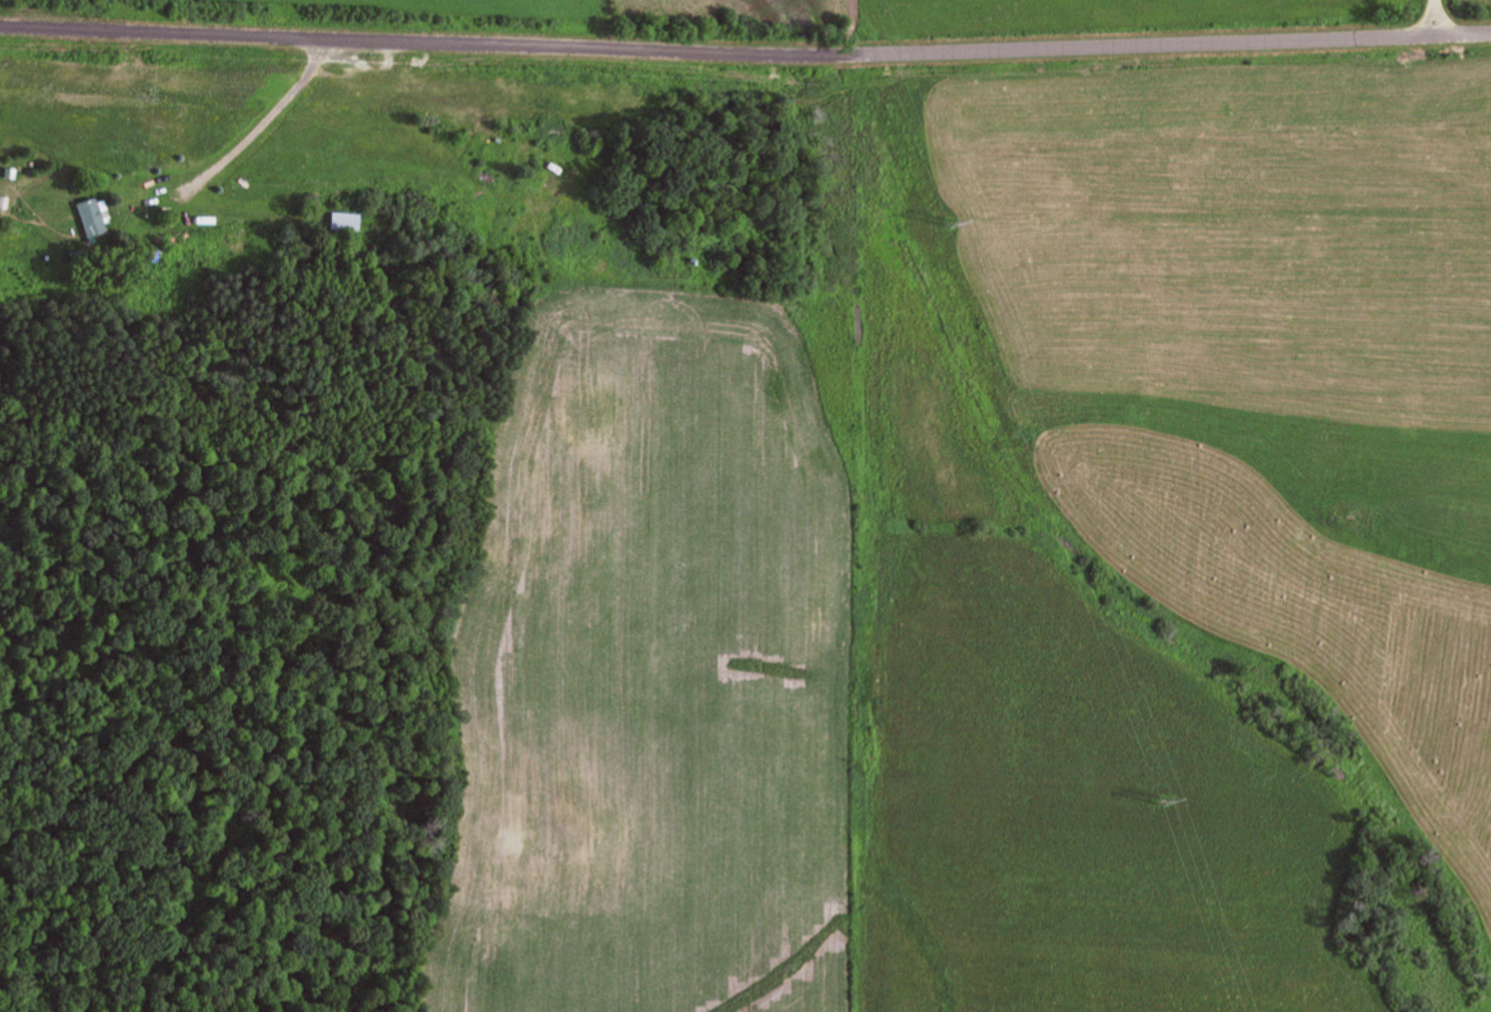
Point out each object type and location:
road: (1431, 18)
road: (745, 59)
road: (268, 112)
building: (94, 217)
building: (346, 221)
power tower: (957, 224)
power tower: (1167, 801)

